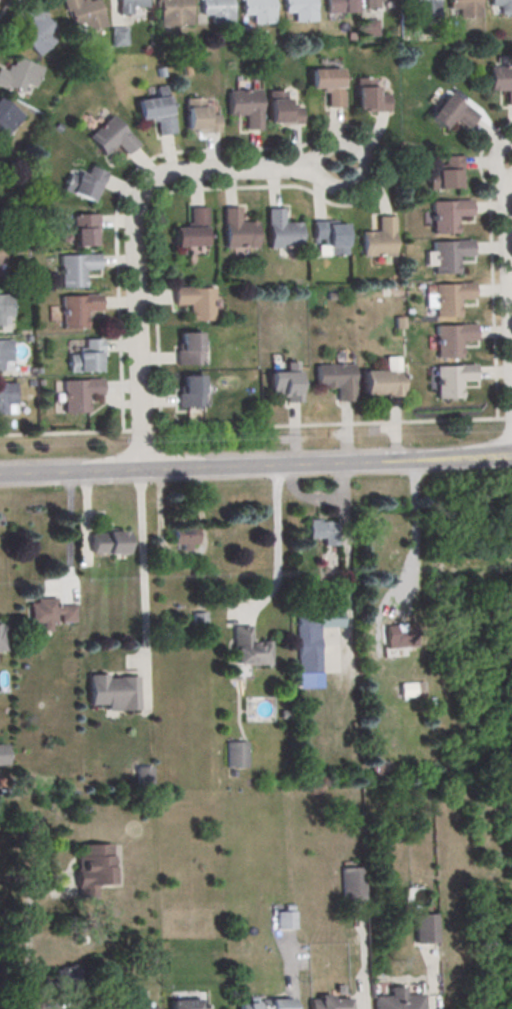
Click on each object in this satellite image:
building: (374, 4)
building: (129, 6)
building: (339, 6)
building: (502, 6)
road: (5, 7)
building: (424, 7)
building: (465, 8)
building: (299, 9)
building: (216, 11)
building: (257, 11)
building: (173, 13)
building: (83, 15)
building: (369, 26)
building: (35, 29)
building: (119, 35)
building: (18, 75)
building: (501, 81)
building: (328, 85)
building: (369, 97)
building: (245, 107)
building: (281, 110)
building: (156, 112)
building: (449, 113)
building: (200, 116)
building: (7, 117)
building: (110, 137)
road: (496, 164)
building: (444, 174)
building: (85, 183)
road: (123, 188)
road: (196, 190)
building: (447, 215)
road: (136, 226)
building: (83, 230)
building: (191, 230)
building: (237, 231)
building: (281, 231)
building: (329, 238)
building: (378, 240)
building: (448, 256)
building: (1, 257)
road: (490, 263)
building: (75, 269)
road: (508, 286)
building: (449, 298)
building: (196, 303)
building: (4, 307)
building: (76, 310)
building: (450, 340)
building: (188, 350)
building: (4, 353)
building: (86, 358)
building: (383, 379)
building: (335, 380)
building: (450, 380)
building: (284, 383)
building: (189, 392)
building: (78, 395)
building: (6, 396)
road: (503, 419)
road: (323, 426)
road: (140, 432)
road: (65, 434)
road: (256, 467)
road: (85, 512)
road: (412, 531)
building: (322, 532)
building: (183, 535)
road: (68, 540)
building: (107, 543)
road: (275, 554)
road: (183, 555)
road: (345, 576)
road: (143, 587)
building: (48, 613)
building: (399, 637)
building: (1, 639)
building: (312, 643)
building: (248, 649)
building: (113, 692)
building: (2, 755)
building: (236, 755)
building: (92, 869)
building: (352, 886)
building: (285, 921)
road: (25, 928)
building: (424, 930)
road: (363, 955)
road: (291, 969)
road: (433, 976)
building: (62, 979)
building: (397, 1000)
building: (327, 1003)
building: (103, 1004)
building: (183, 1005)
building: (267, 1005)
building: (0, 1007)
building: (1, 1008)
building: (152, 1008)

